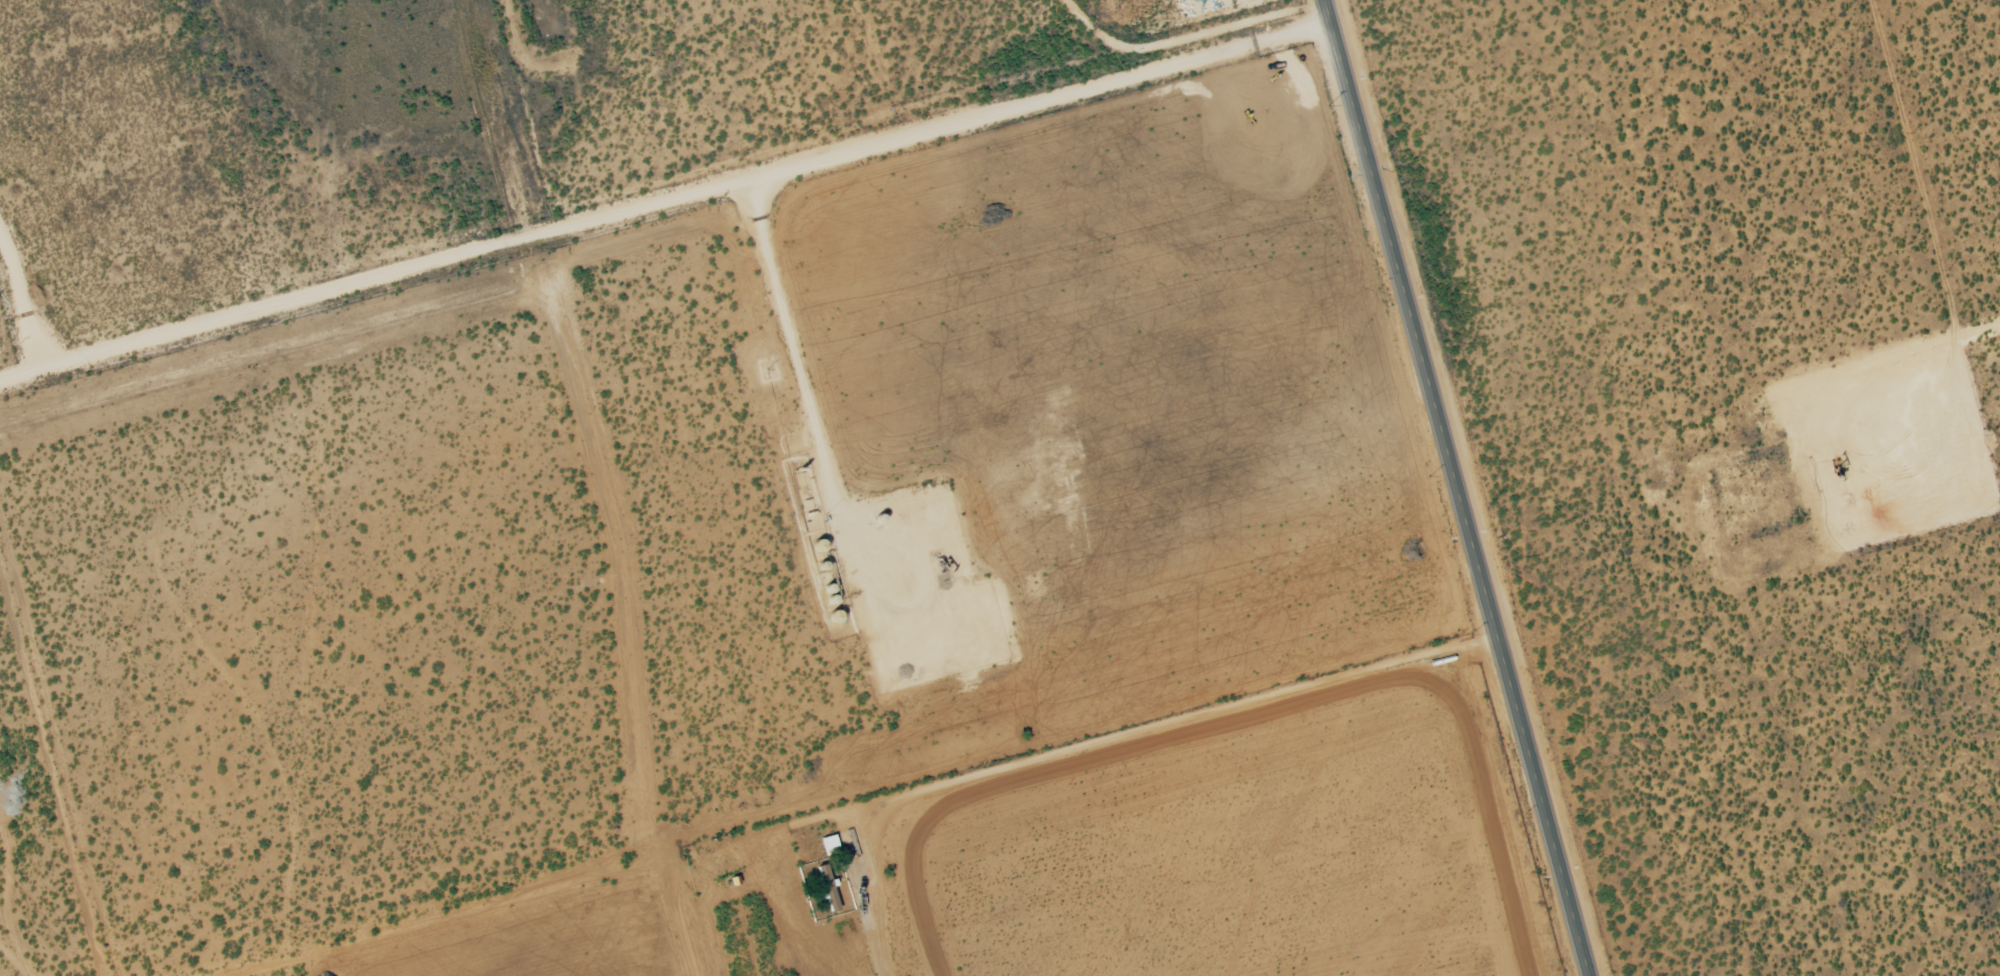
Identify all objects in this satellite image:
road: (918, 107)
road: (1451, 487)
road: (1092, 741)
building: (830, 845)
building: (827, 887)

